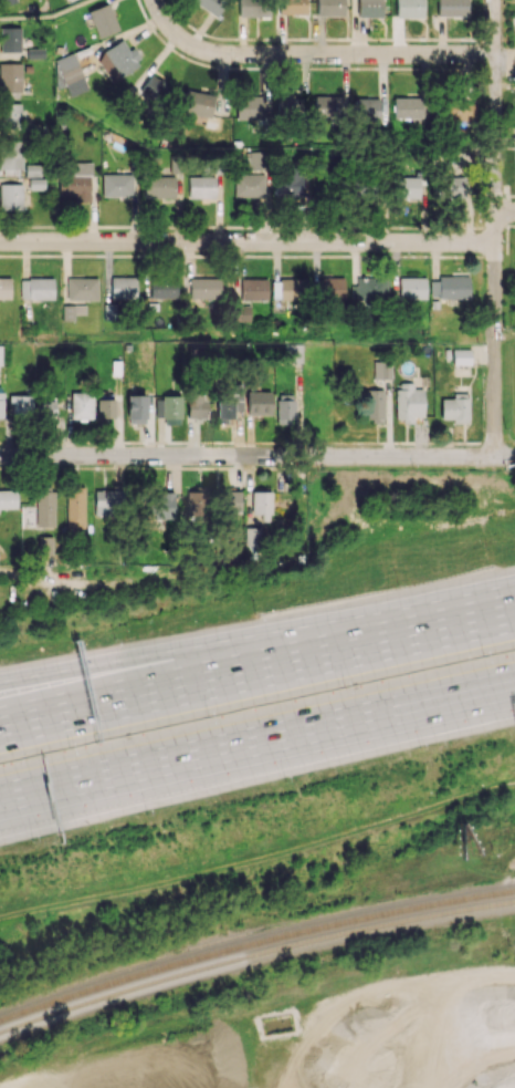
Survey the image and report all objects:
building: (7, 2)
building: (210, 6)
building: (292, 7)
building: (329, 7)
building: (253, 8)
building: (369, 8)
building: (409, 8)
building: (452, 8)
road: (46, 15)
building: (103, 20)
road: (174, 32)
building: (9, 39)
road: (350, 52)
building: (122, 56)
building: (71, 74)
building: (10, 76)
building: (151, 87)
road: (505, 87)
building: (197, 103)
building: (290, 106)
building: (250, 107)
building: (328, 107)
building: (409, 107)
building: (366, 108)
building: (456, 114)
building: (9, 115)
building: (10, 157)
building: (458, 157)
building: (257, 159)
building: (32, 169)
building: (75, 180)
building: (35, 183)
building: (117, 185)
building: (249, 185)
building: (159, 186)
building: (201, 186)
building: (407, 187)
building: (451, 187)
building: (10, 196)
road: (505, 211)
road: (495, 228)
road: (246, 241)
building: (164, 286)
building: (4, 287)
building: (123, 287)
building: (330, 287)
building: (36, 288)
building: (82, 288)
building: (204, 288)
building: (411, 288)
building: (253, 289)
building: (288, 289)
building: (369, 289)
building: (442, 289)
building: (72, 311)
building: (241, 313)
road: (505, 338)
building: (294, 353)
building: (0, 355)
building: (461, 356)
building: (381, 369)
building: (229, 401)
building: (408, 402)
building: (259, 403)
building: (20, 404)
building: (81, 404)
building: (197, 405)
building: (375, 405)
building: (1, 406)
building: (45, 408)
building: (105, 408)
building: (136, 408)
building: (285, 408)
building: (456, 408)
building: (171, 410)
road: (257, 456)
building: (8, 498)
building: (212, 499)
building: (106, 501)
building: (262, 504)
building: (164, 505)
building: (75, 507)
building: (44, 508)
building: (44, 545)
street lamp: (396, 584)
street lamp: (254, 612)
road: (459, 619)
street lamp: (114, 639)
road: (200, 654)
street lamp: (482, 655)
road: (200, 676)
street lamp: (344, 687)
street lamp: (207, 716)
road: (257, 745)
street lamp: (69, 747)
street lamp: (419, 749)
street lamp: (284, 781)
road: (25, 798)
street lamp: (145, 814)
street lamp: (31, 841)
railway: (254, 944)
railway: (254, 954)

